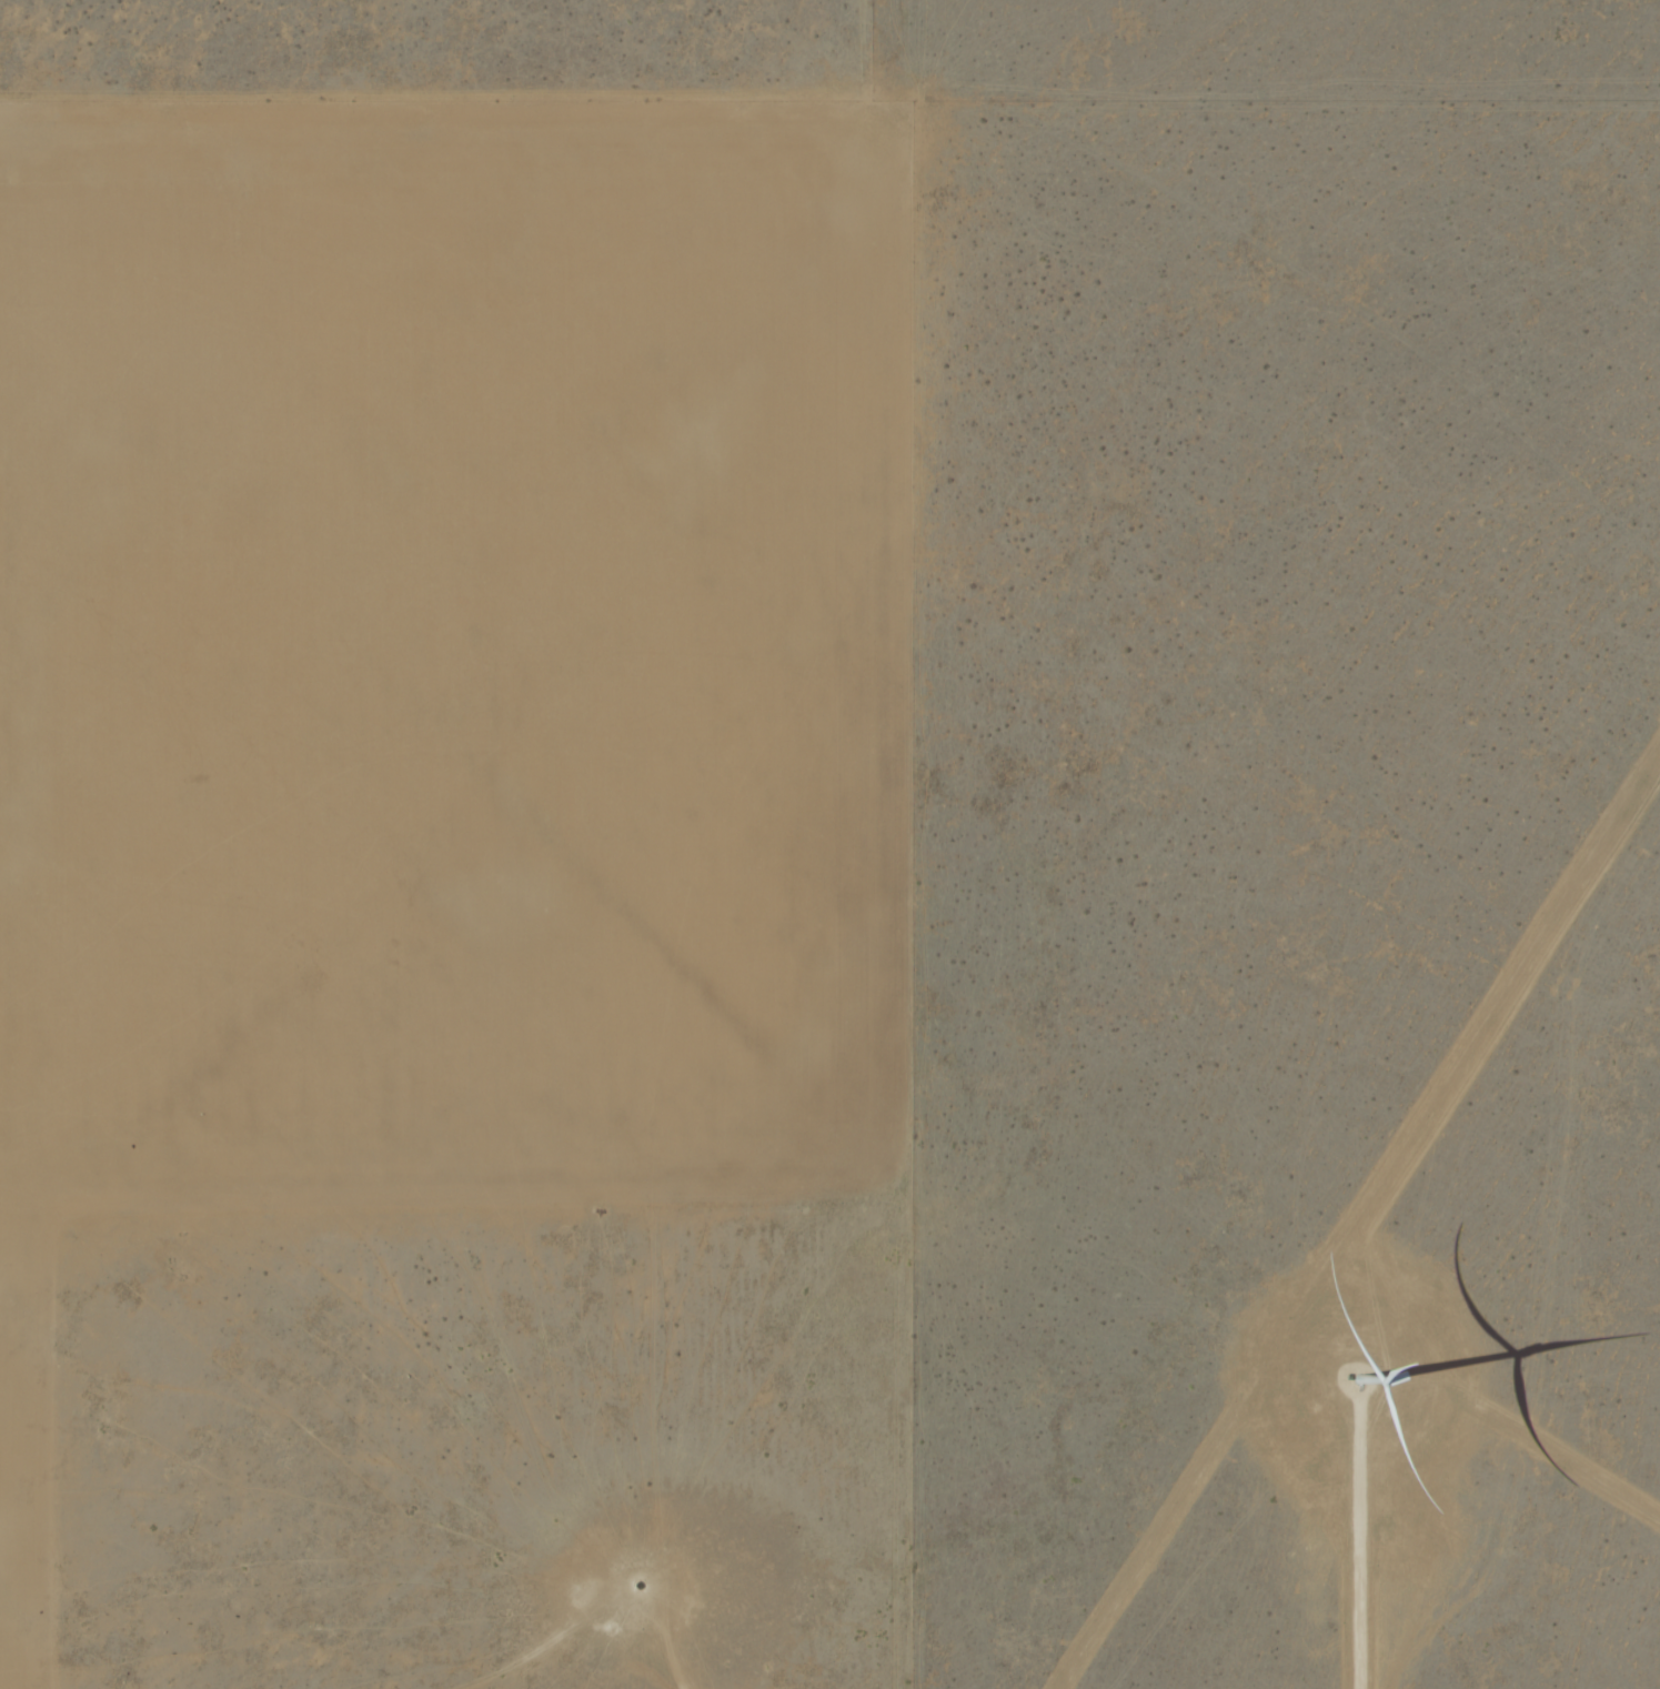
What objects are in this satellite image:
wind turbine: (1352, 1381)

